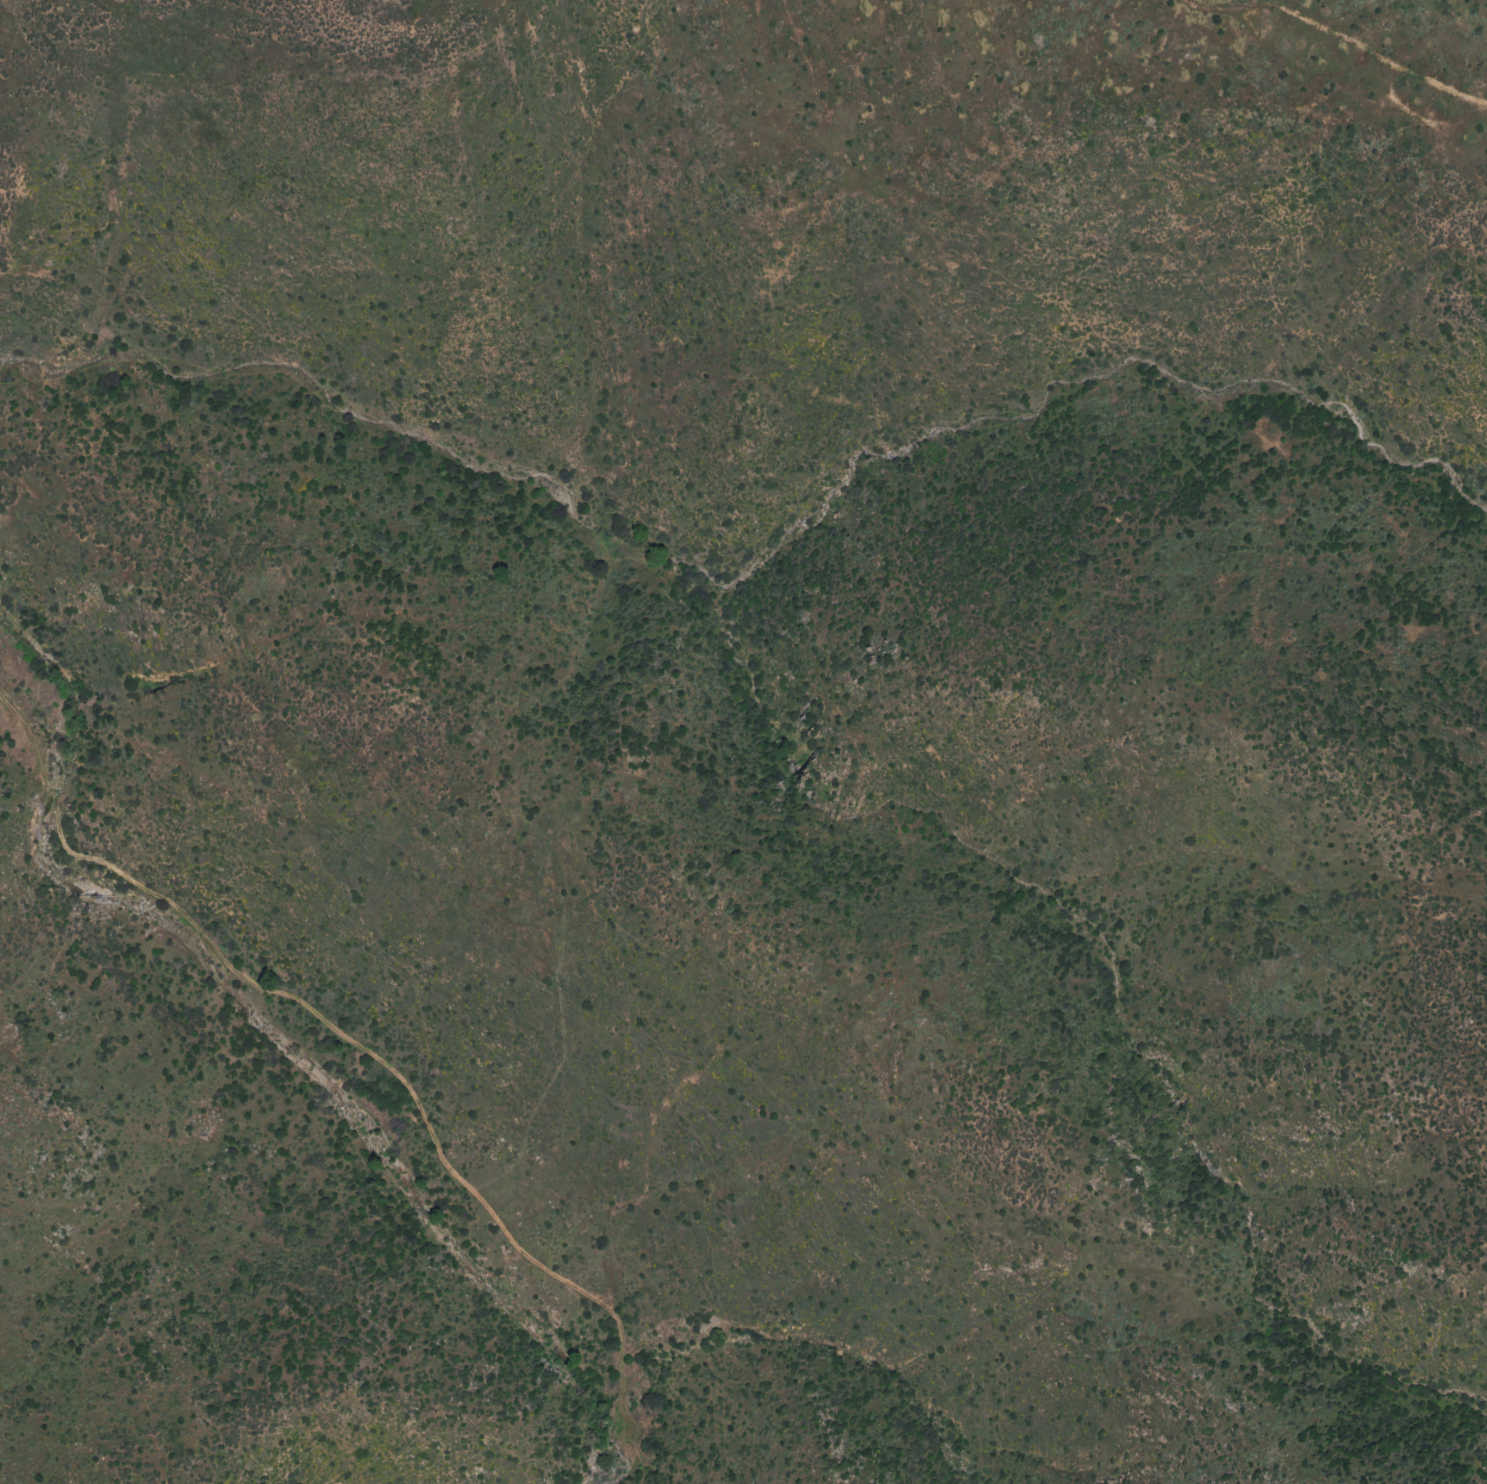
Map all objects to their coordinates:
road: (1334, 38)

